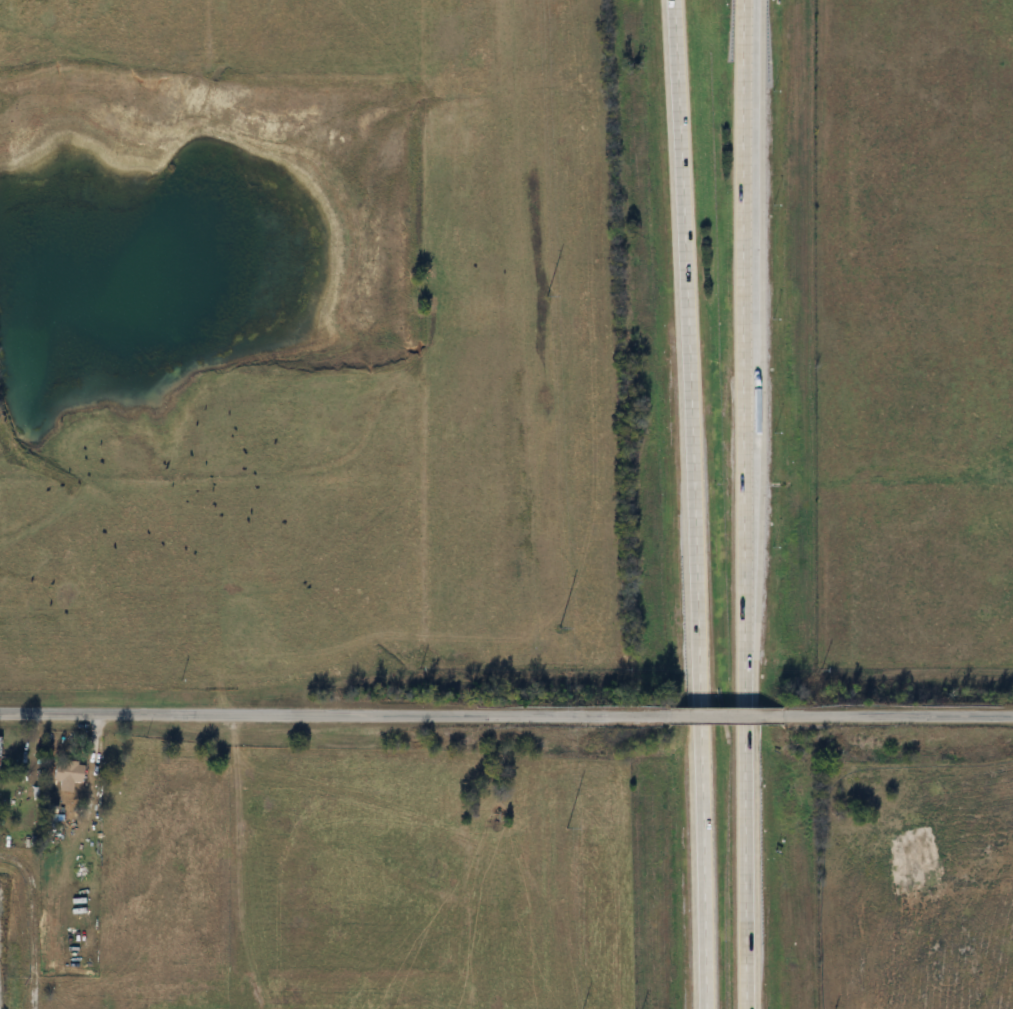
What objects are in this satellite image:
road: (733, 239)
road: (678, 355)
road: (735, 594)
road: (324, 717)
road: (891, 718)
road: (709, 719)
road: (693, 720)
road: (737, 720)
building: (0, 758)
building: (70, 775)
road: (694, 869)
road: (737, 869)

